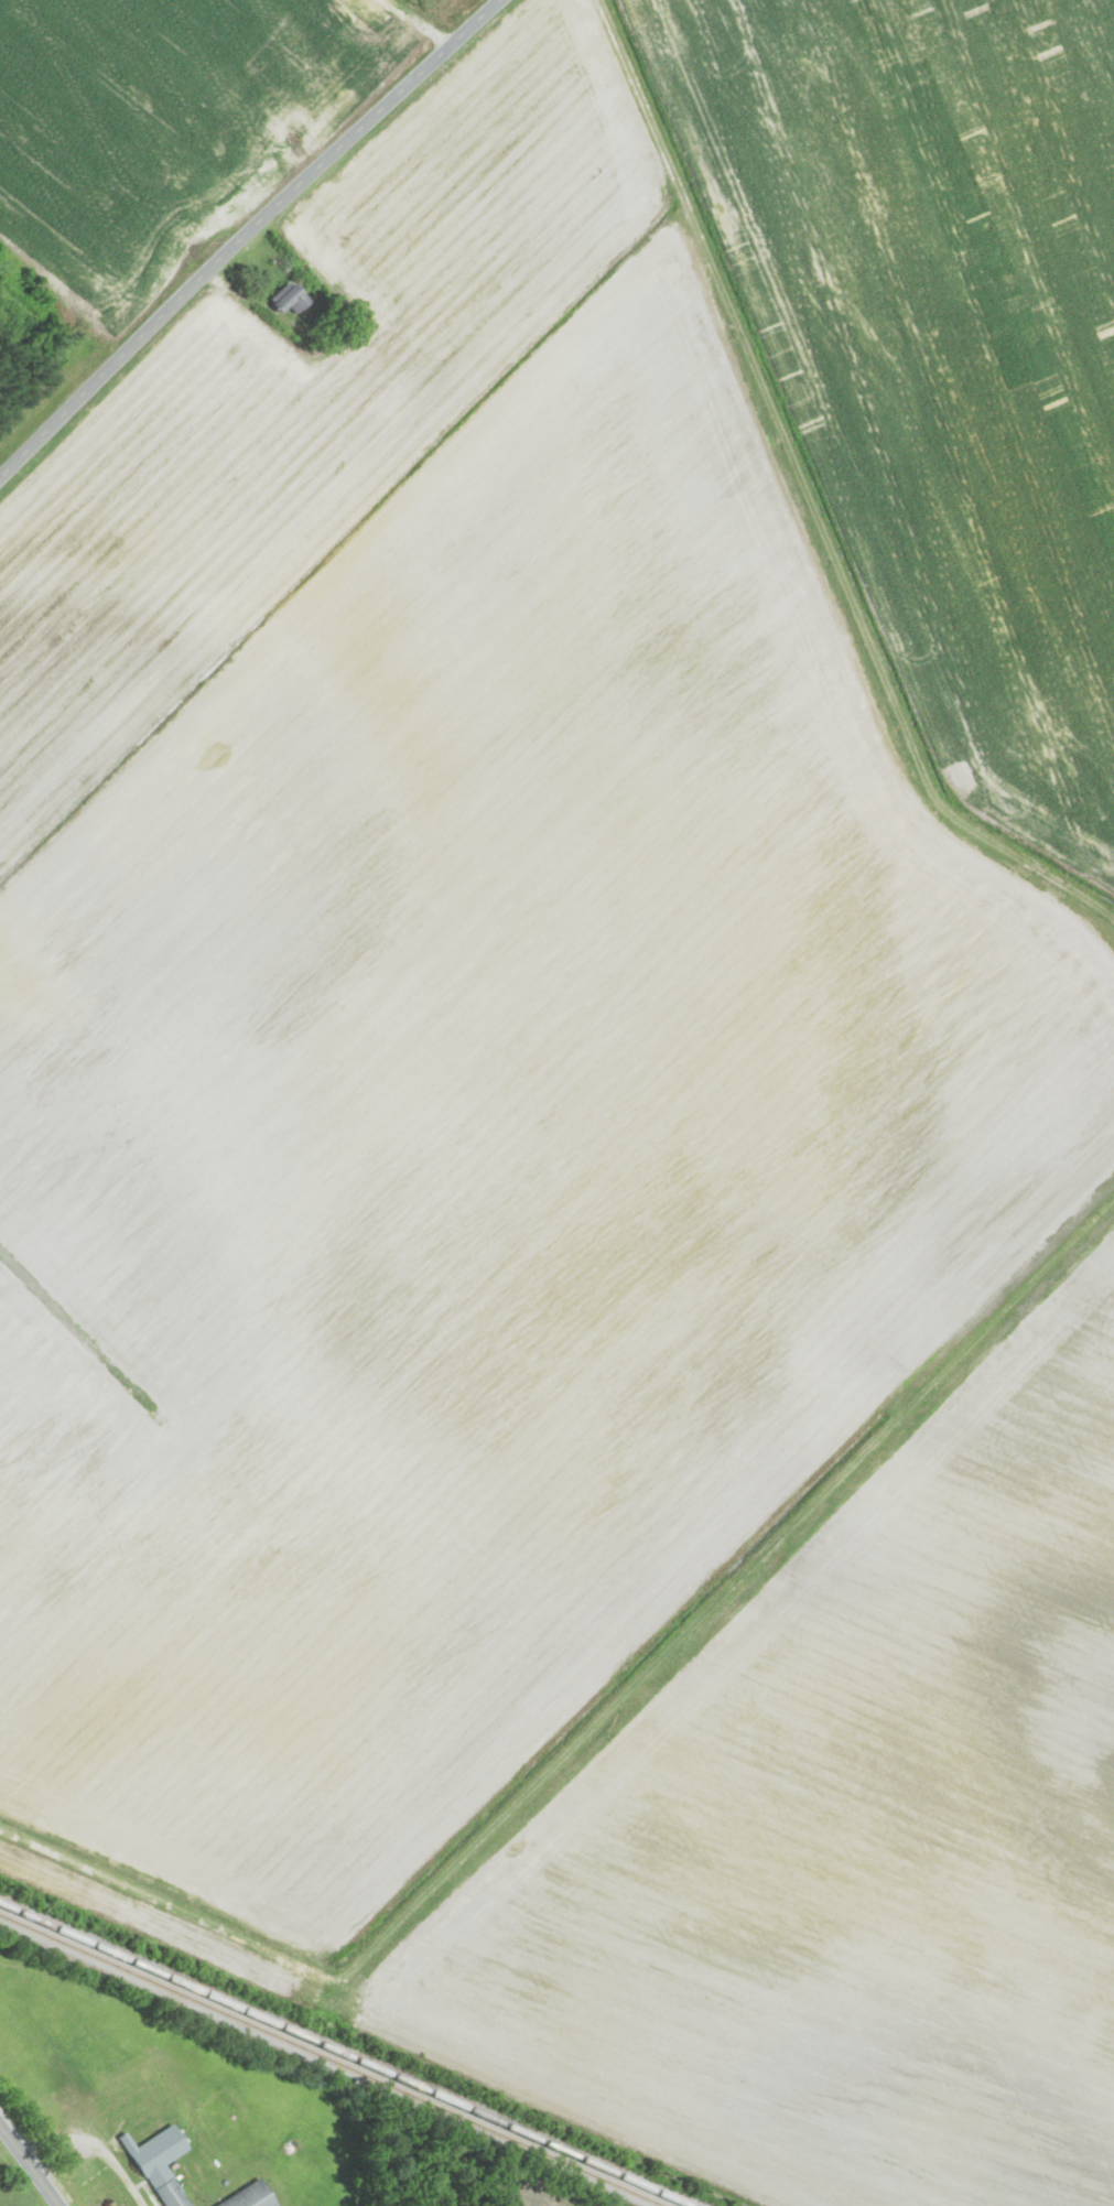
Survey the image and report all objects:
building: (372, 10)
road: (245, 234)
building: (291, 300)
railway: (345, 2054)
railway: (333, 2059)
building: (162, 2164)
road: (30, 2165)
building: (251, 2197)

